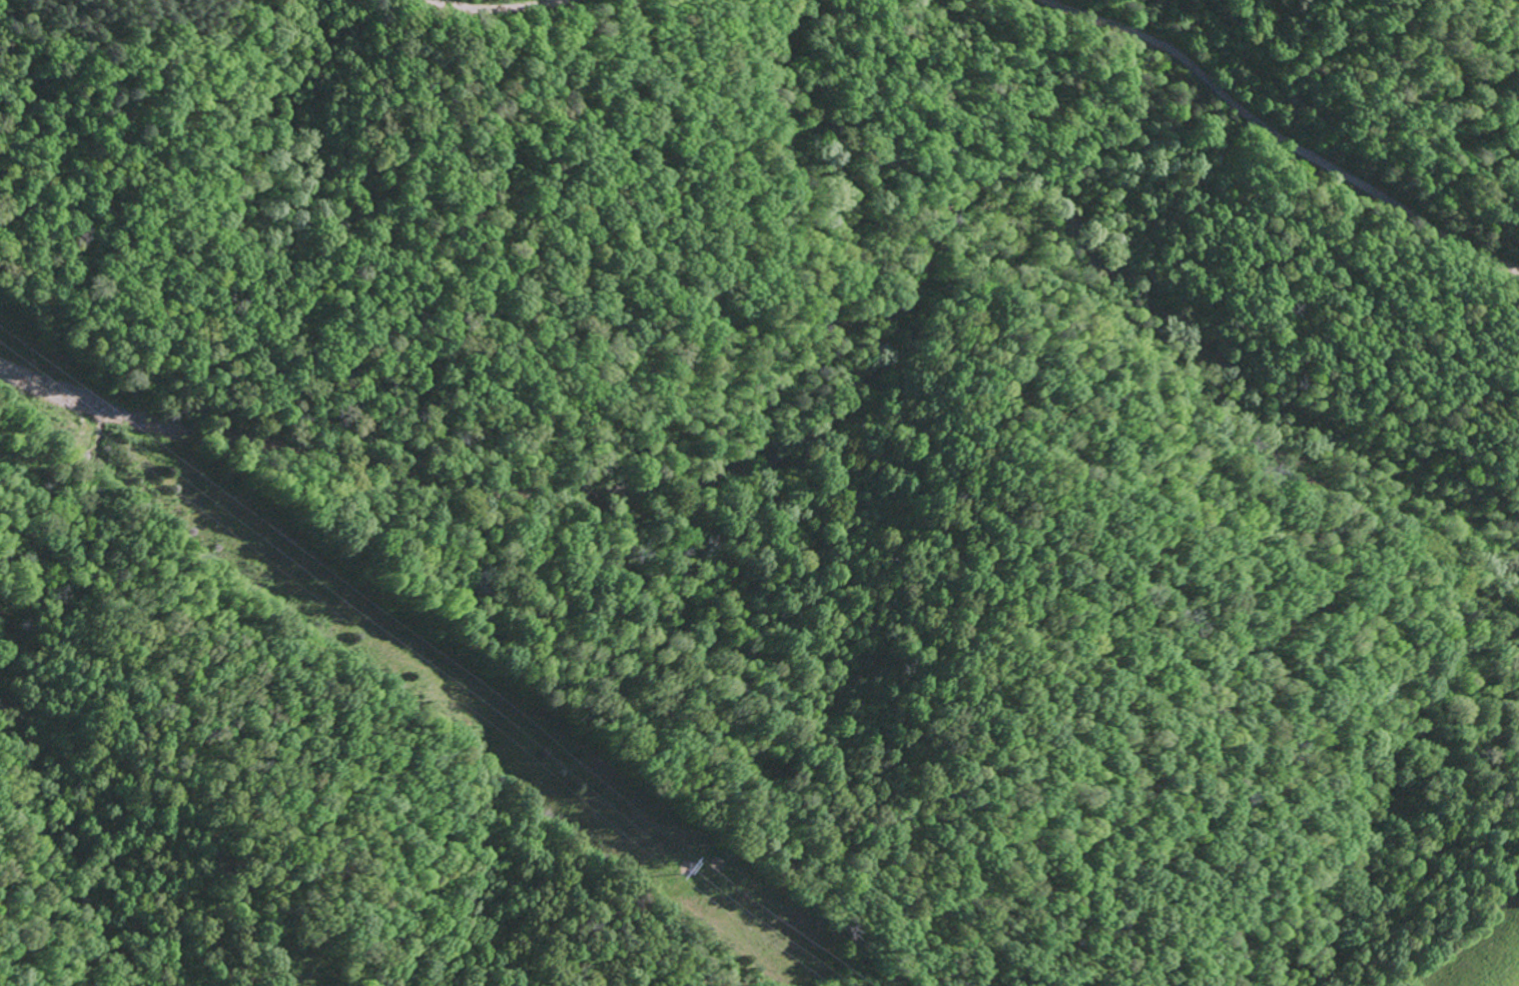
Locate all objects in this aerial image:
road: (496, 0)
road: (1283, 133)
power tower: (680, 862)

